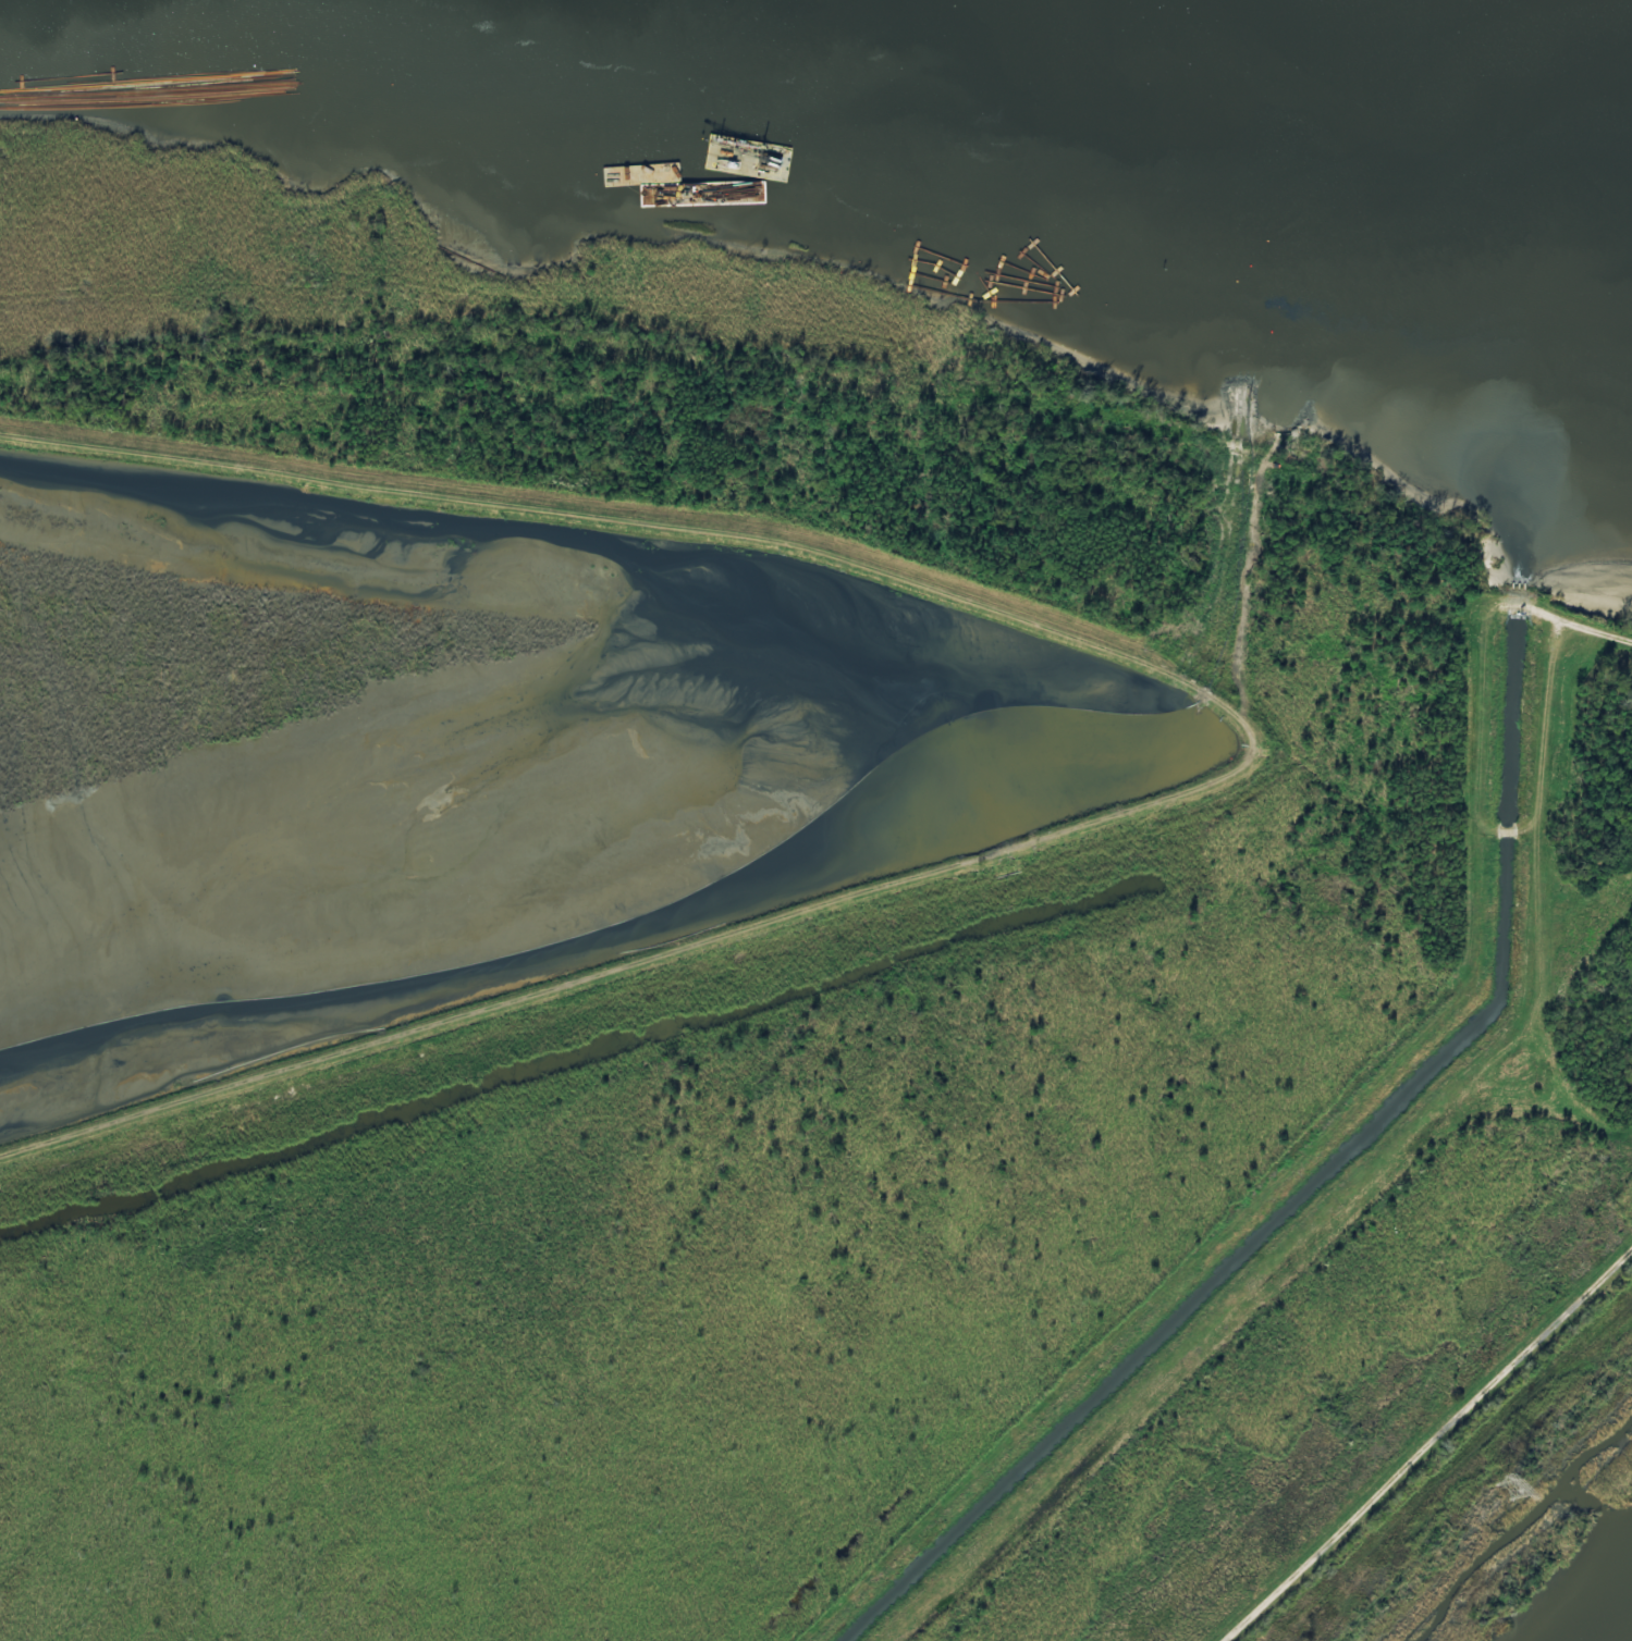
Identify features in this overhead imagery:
river: (1310, 55)
power tower: (1512, 1484)

